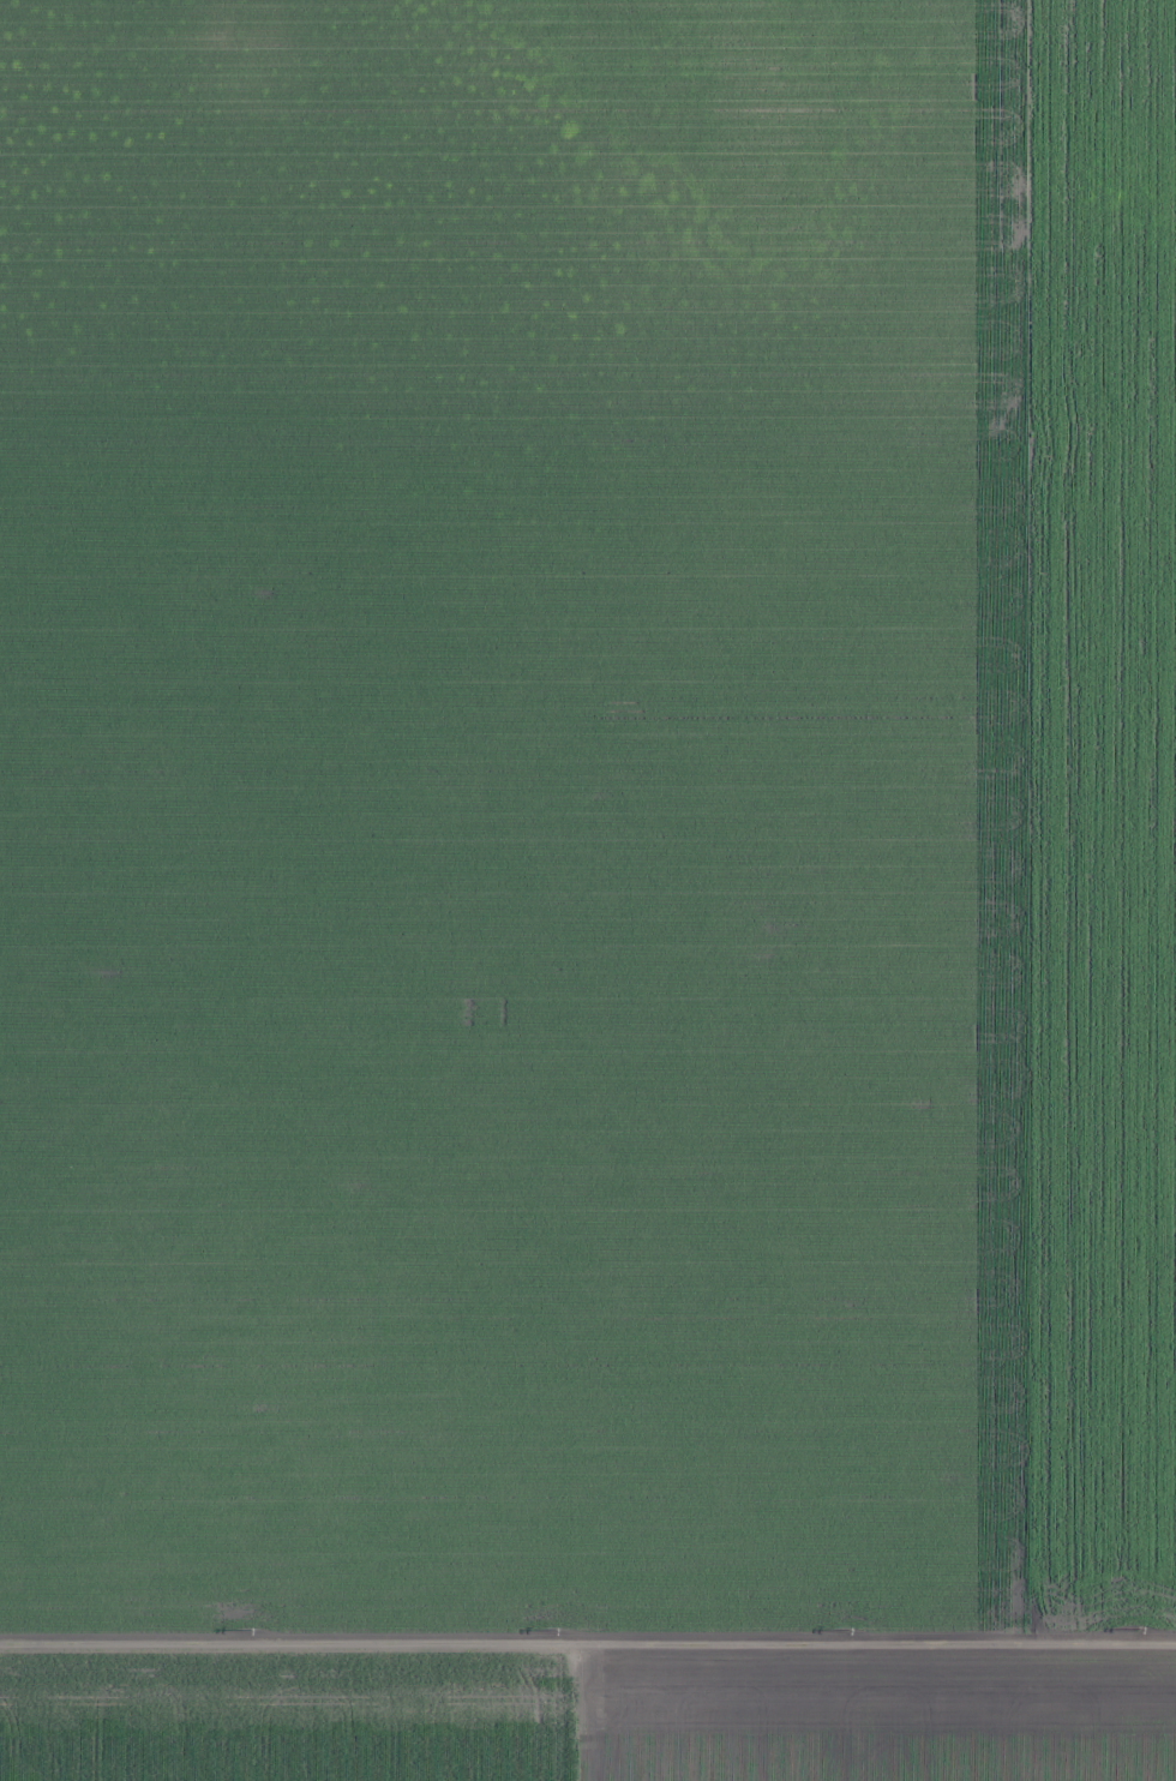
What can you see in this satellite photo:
power tower: (553, 1627)
power tower: (848, 1627)
power tower: (248, 1630)
power tower: (1138, 1630)
road: (588, 1644)

